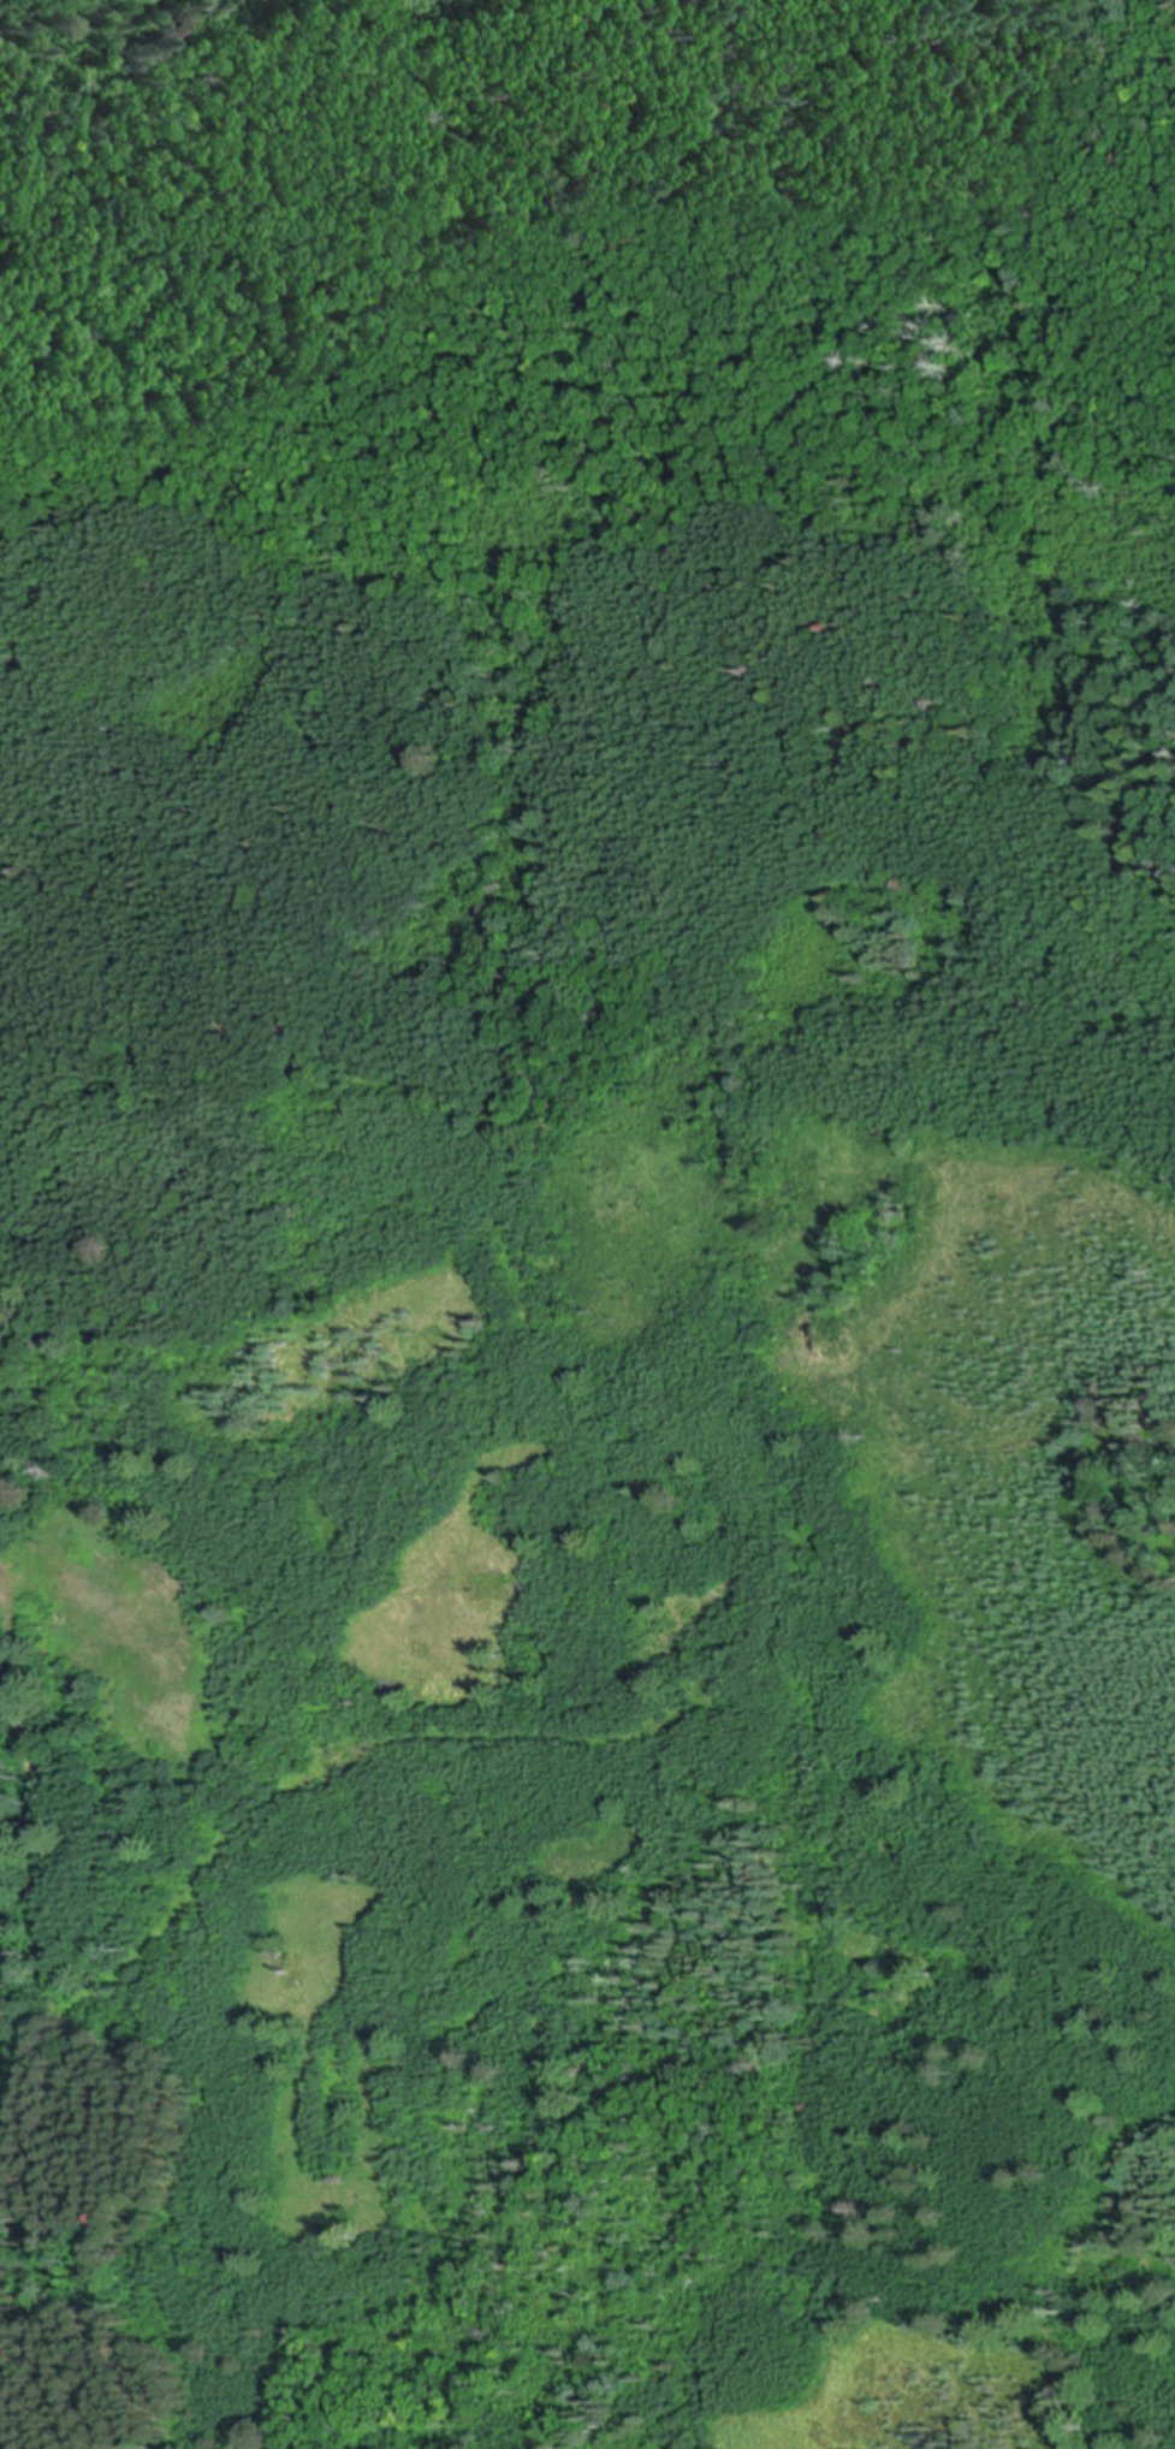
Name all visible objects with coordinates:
road: (20, 2371)

